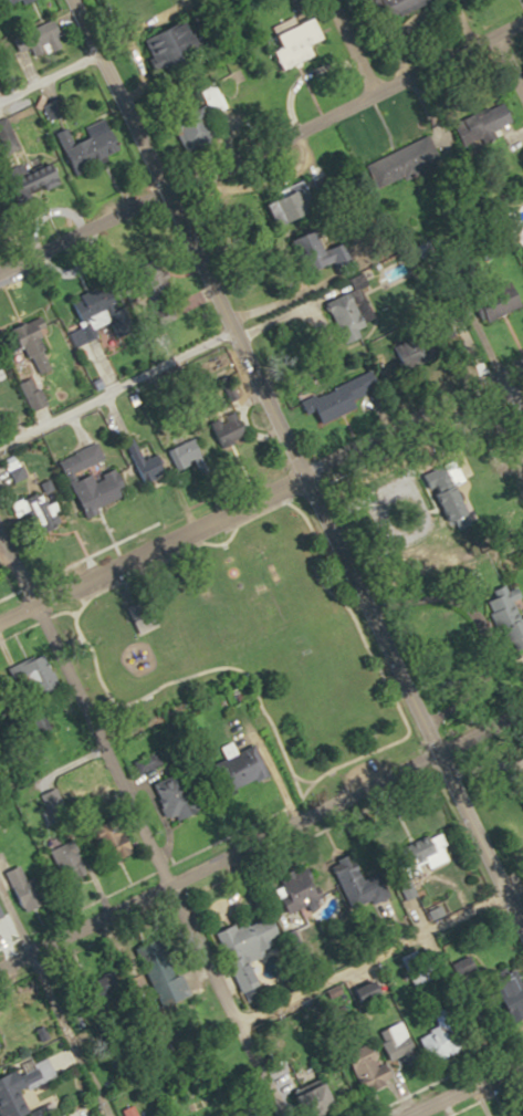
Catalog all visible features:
building: (12, 0)
building: (388, 7)
building: (32, 38)
building: (163, 41)
building: (287, 42)
road: (348, 46)
road: (509, 62)
building: (205, 97)
building: (46, 107)
building: (485, 119)
building: (4, 139)
building: (81, 146)
road: (261, 146)
building: (396, 161)
building: (23, 182)
building: (281, 202)
building: (301, 244)
building: (522, 260)
building: (147, 280)
building: (495, 300)
building: (109, 307)
building: (338, 317)
building: (38, 340)
road: (116, 383)
building: (34, 395)
building: (326, 404)
building: (203, 445)
building: (148, 466)
road: (299, 467)
building: (94, 480)
road: (260, 486)
building: (439, 490)
road: (171, 556)
building: (146, 614)
building: (504, 616)
park: (249, 648)
building: (39, 677)
park: (321, 690)
building: (231, 770)
road: (315, 780)
road: (137, 826)
road: (261, 833)
building: (116, 843)
building: (398, 877)
building: (24, 888)
building: (354, 888)
building: (291, 891)
building: (1, 911)
road: (13, 919)
building: (240, 948)
road: (377, 953)
building: (505, 995)
road: (67, 1032)
building: (388, 1033)
building: (353, 1067)
building: (19, 1084)
road: (458, 1084)
building: (302, 1098)
building: (186, 1115)
building: (508, 1115)

